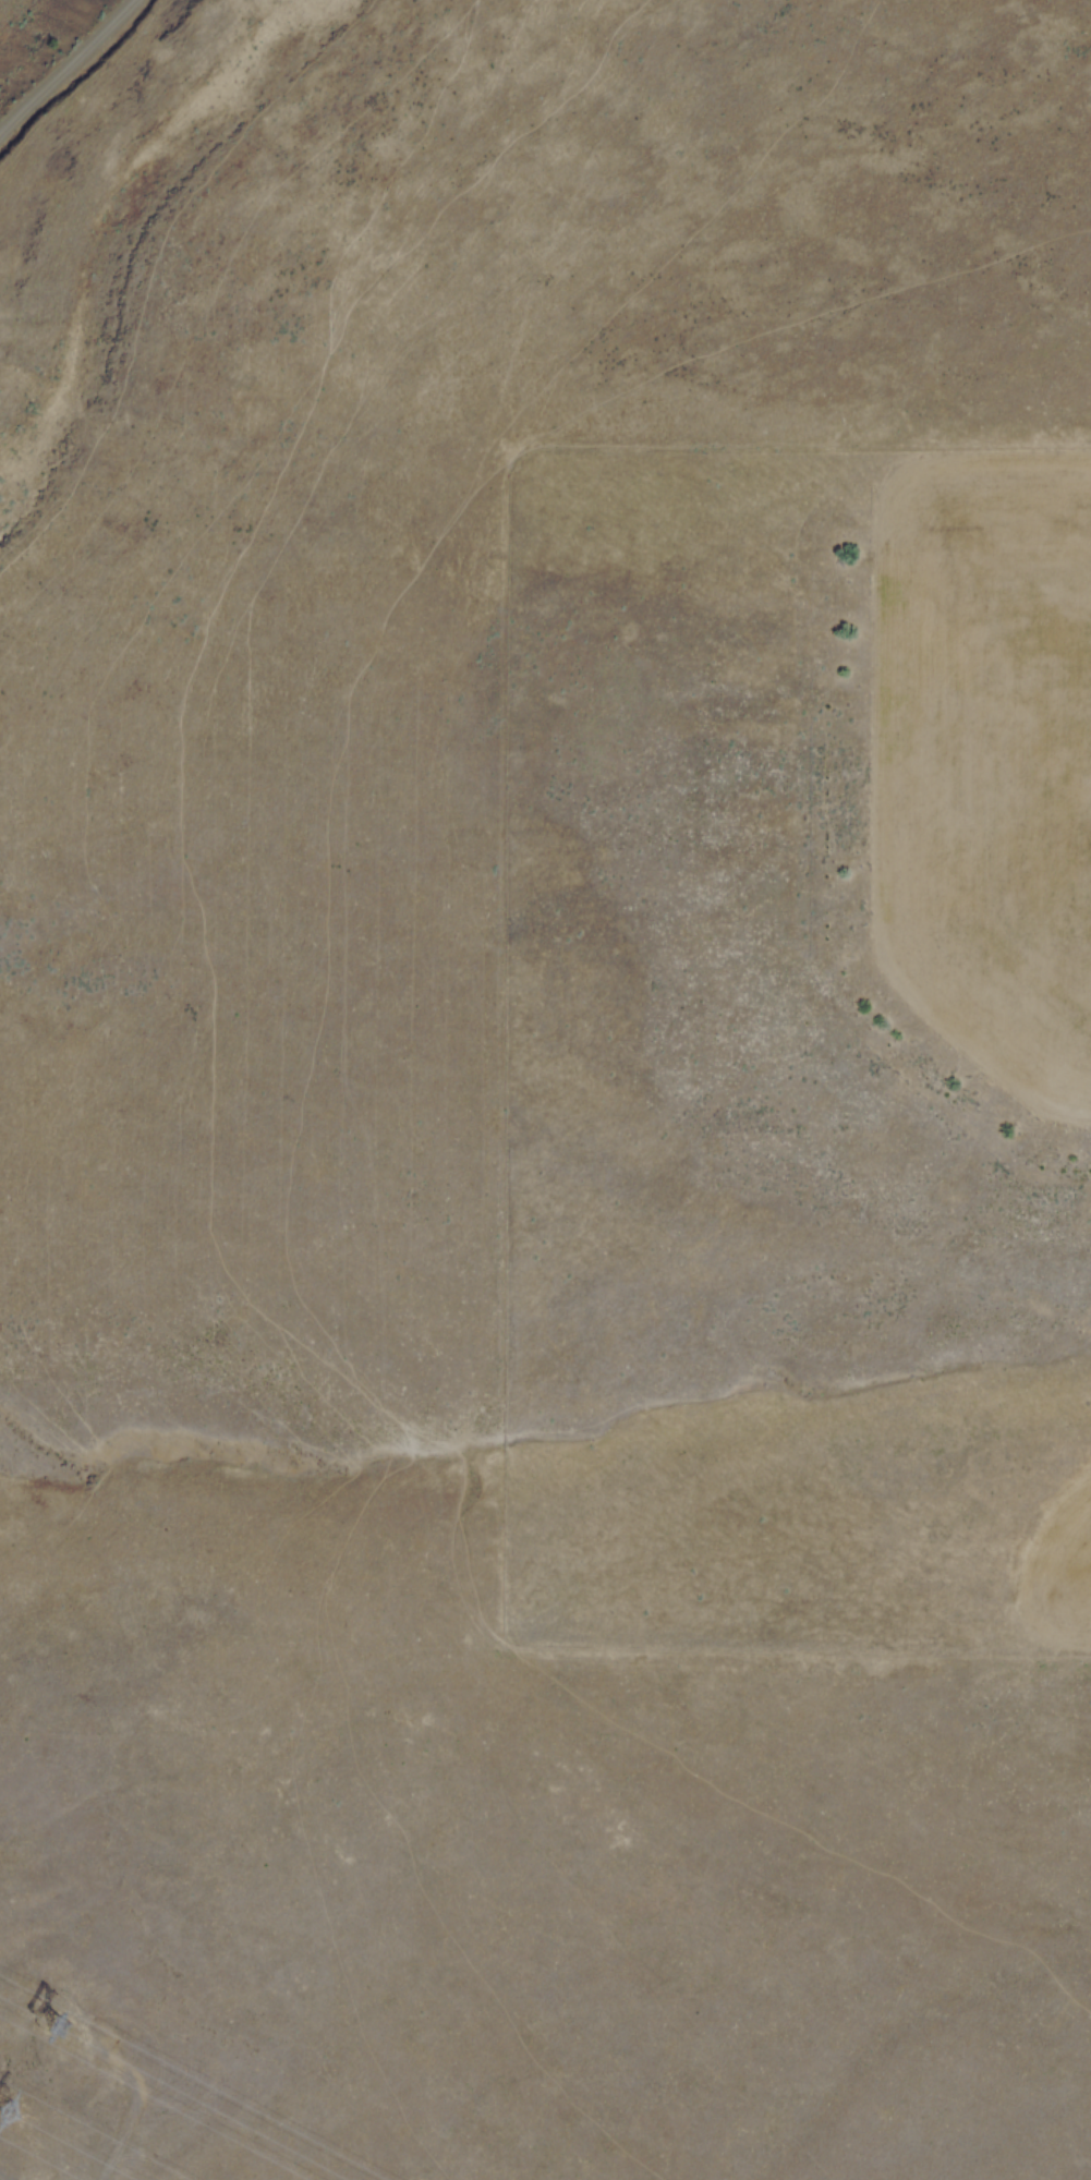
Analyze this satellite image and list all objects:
road: (65, 65)
power tower: (53, 2024)
power tower: (12, 2110)

